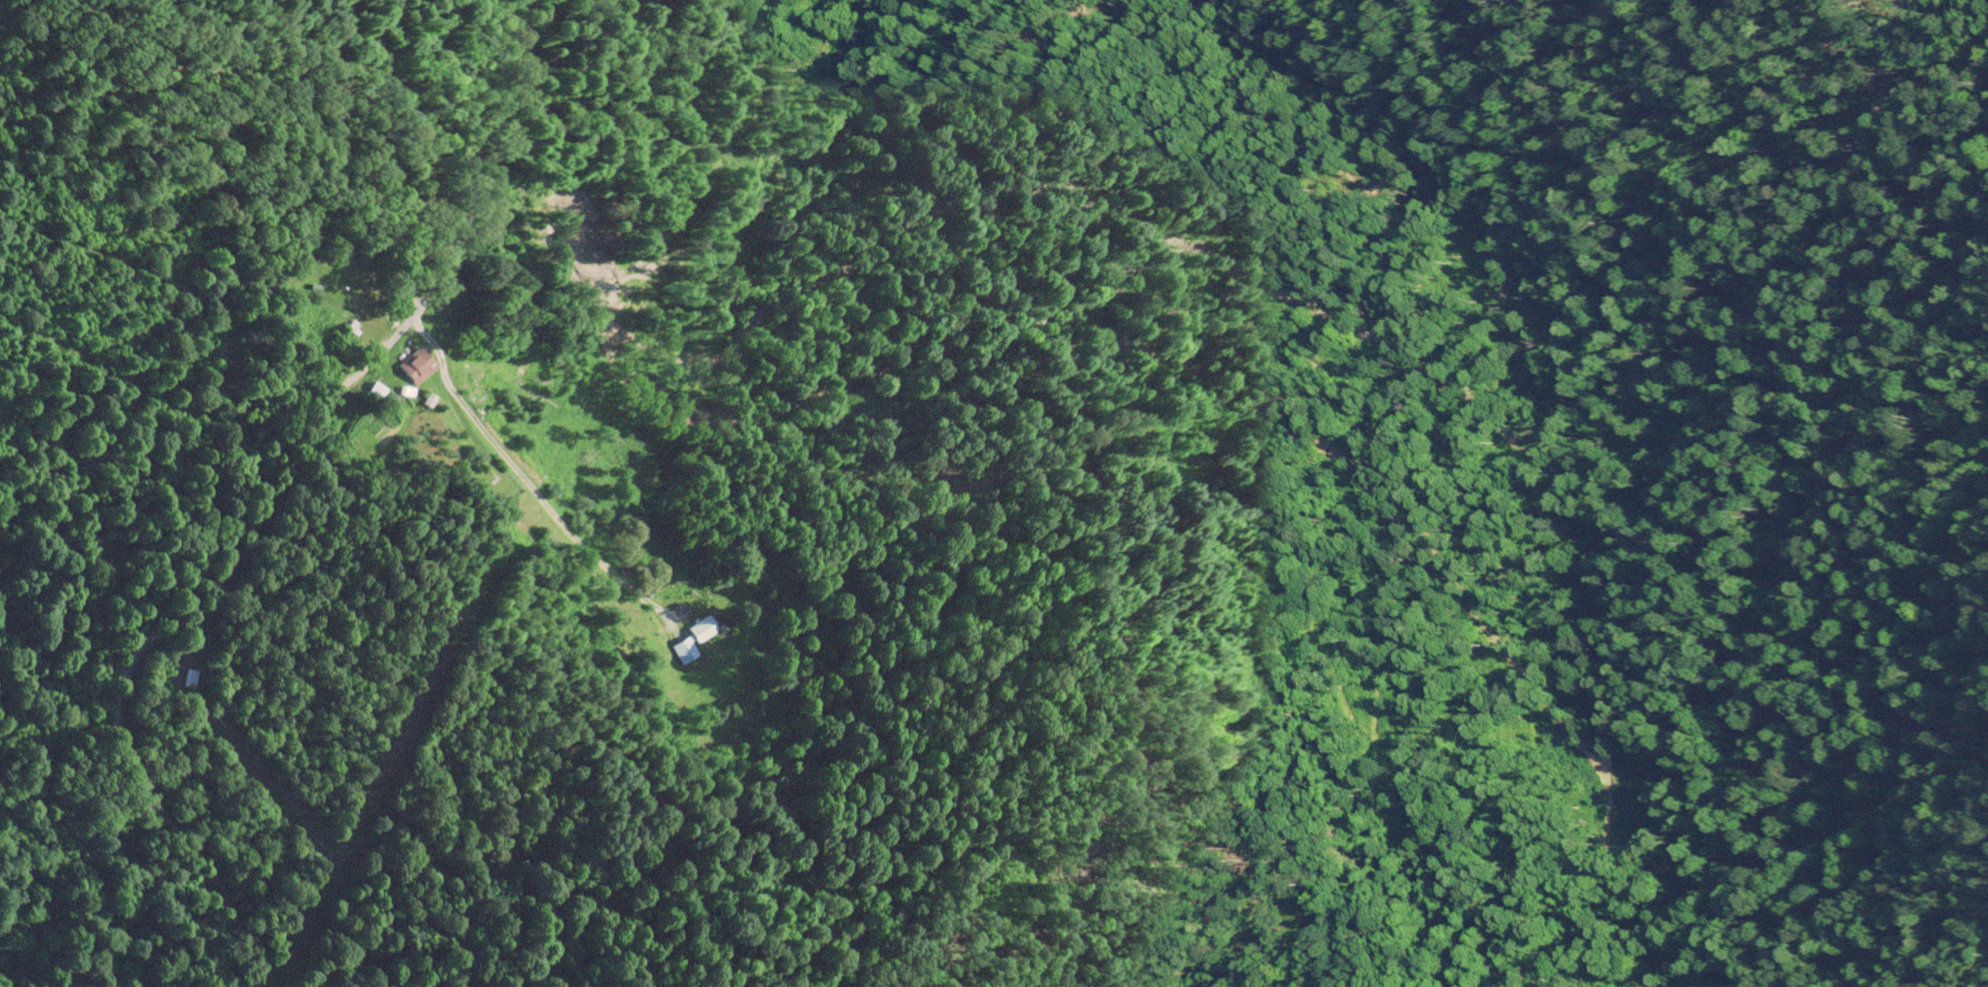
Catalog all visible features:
road: (227, 80)
road: (276, 486)

